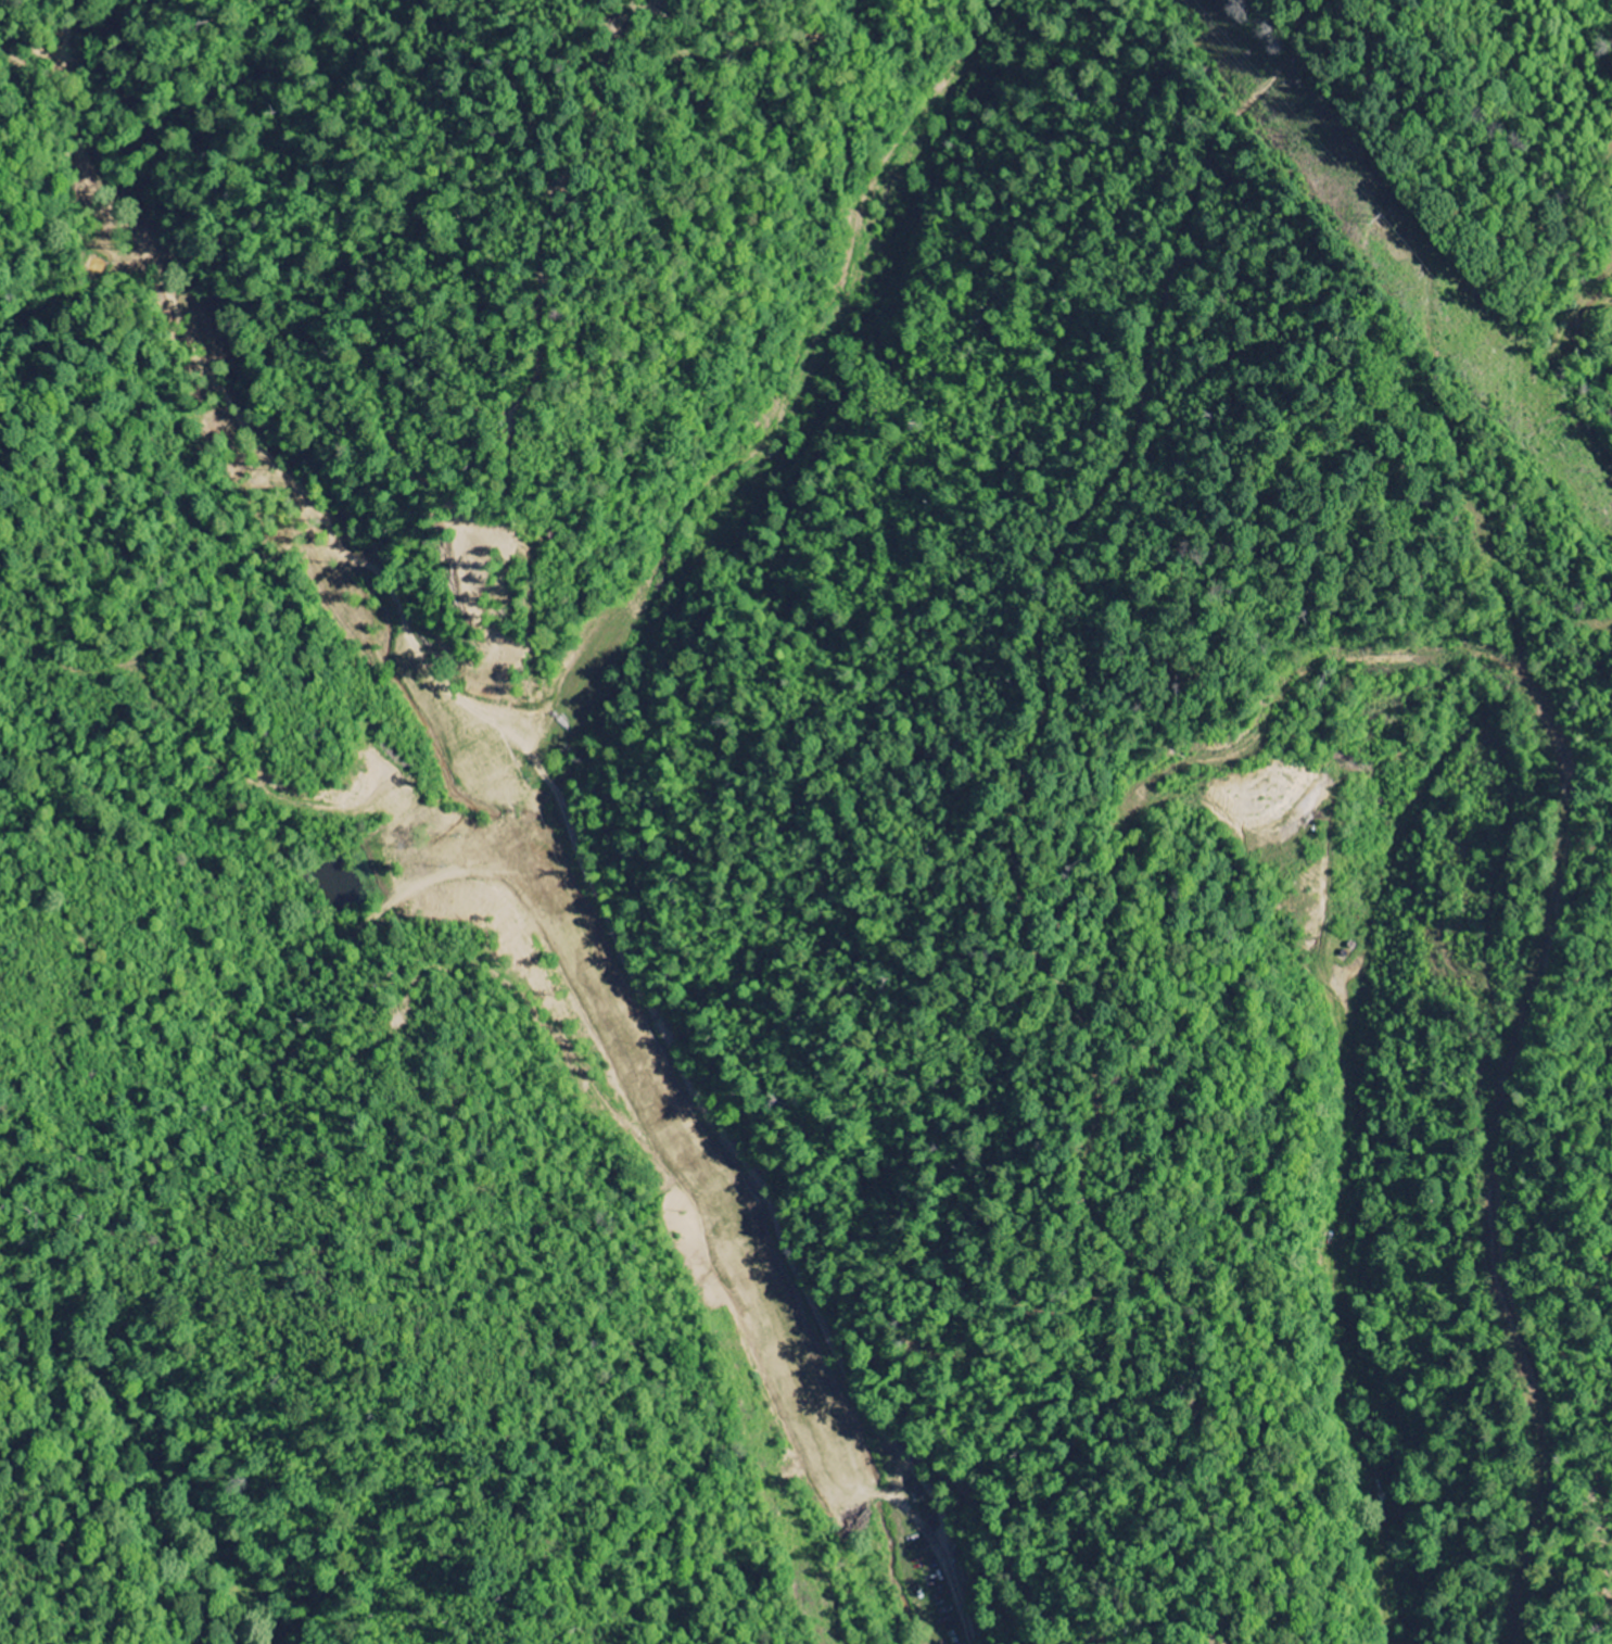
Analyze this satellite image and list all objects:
power tower: (1374, 217)

